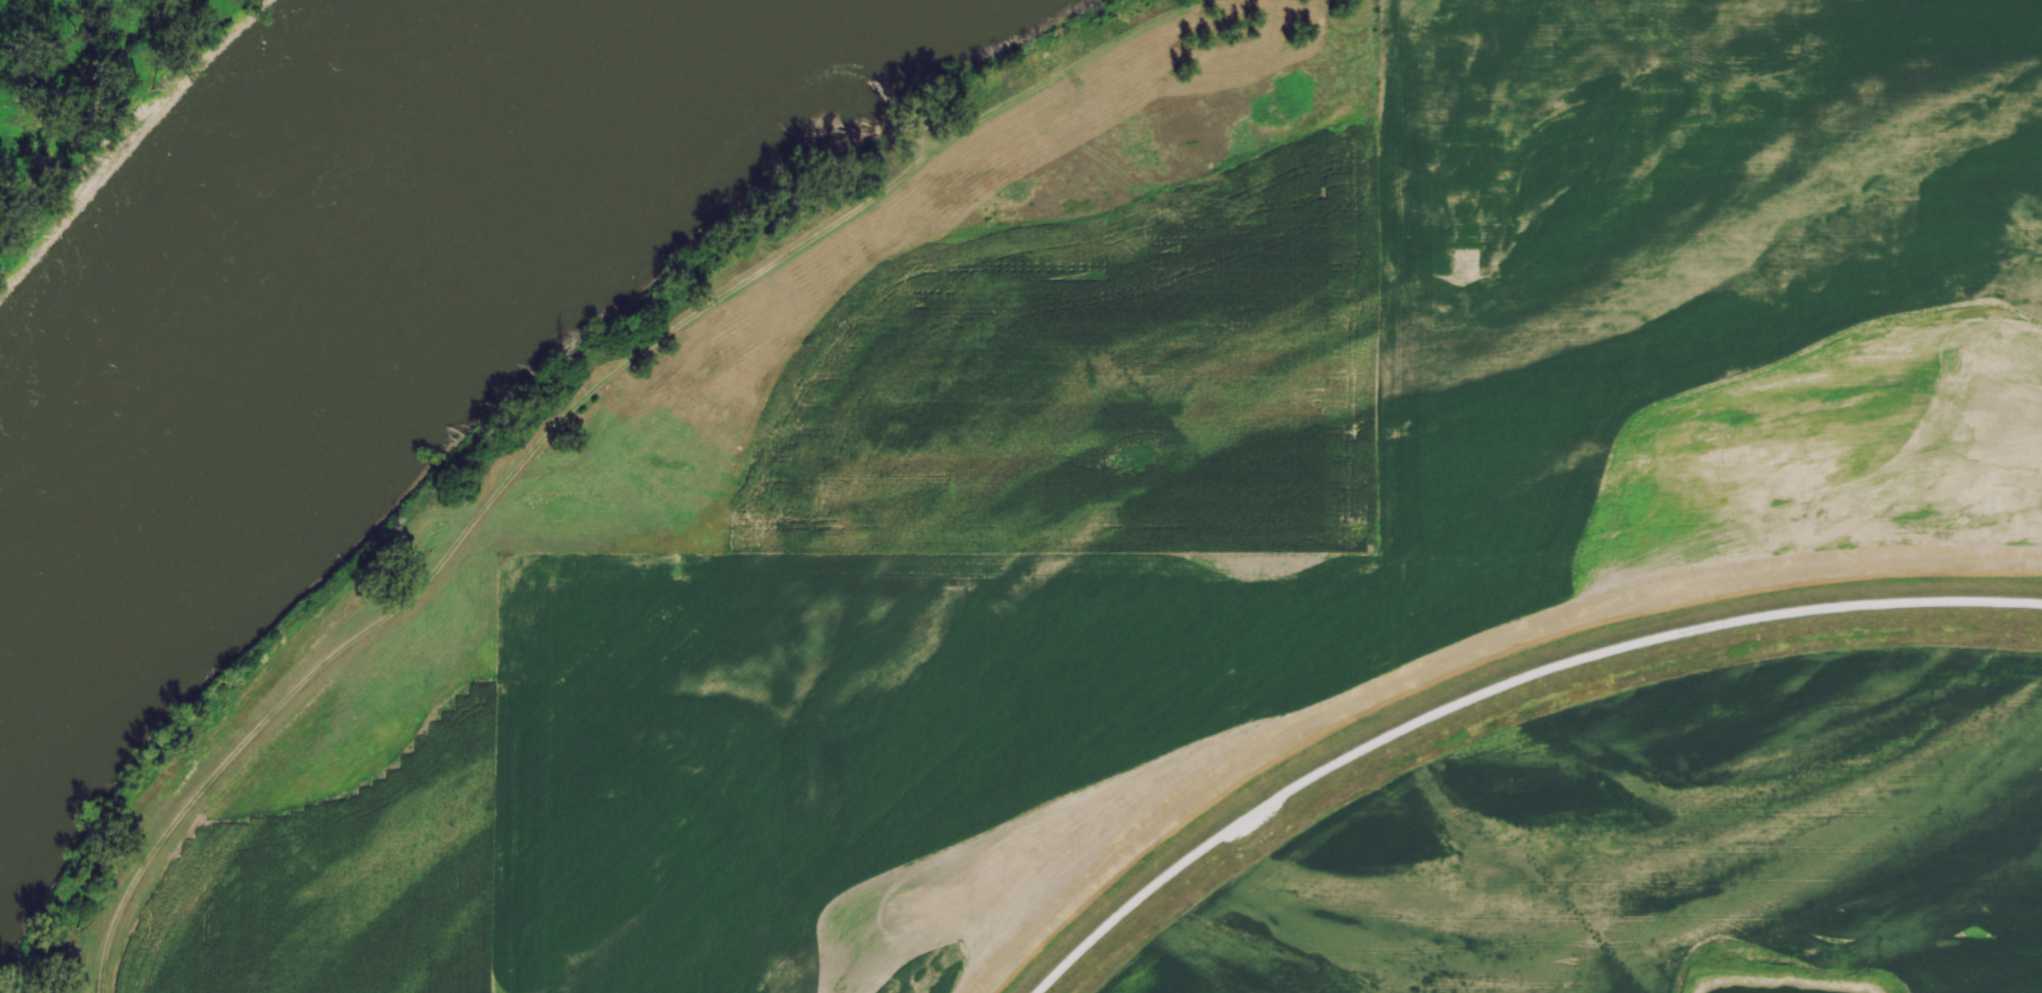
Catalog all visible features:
river: (328, 337)
road: (1486, 680)

